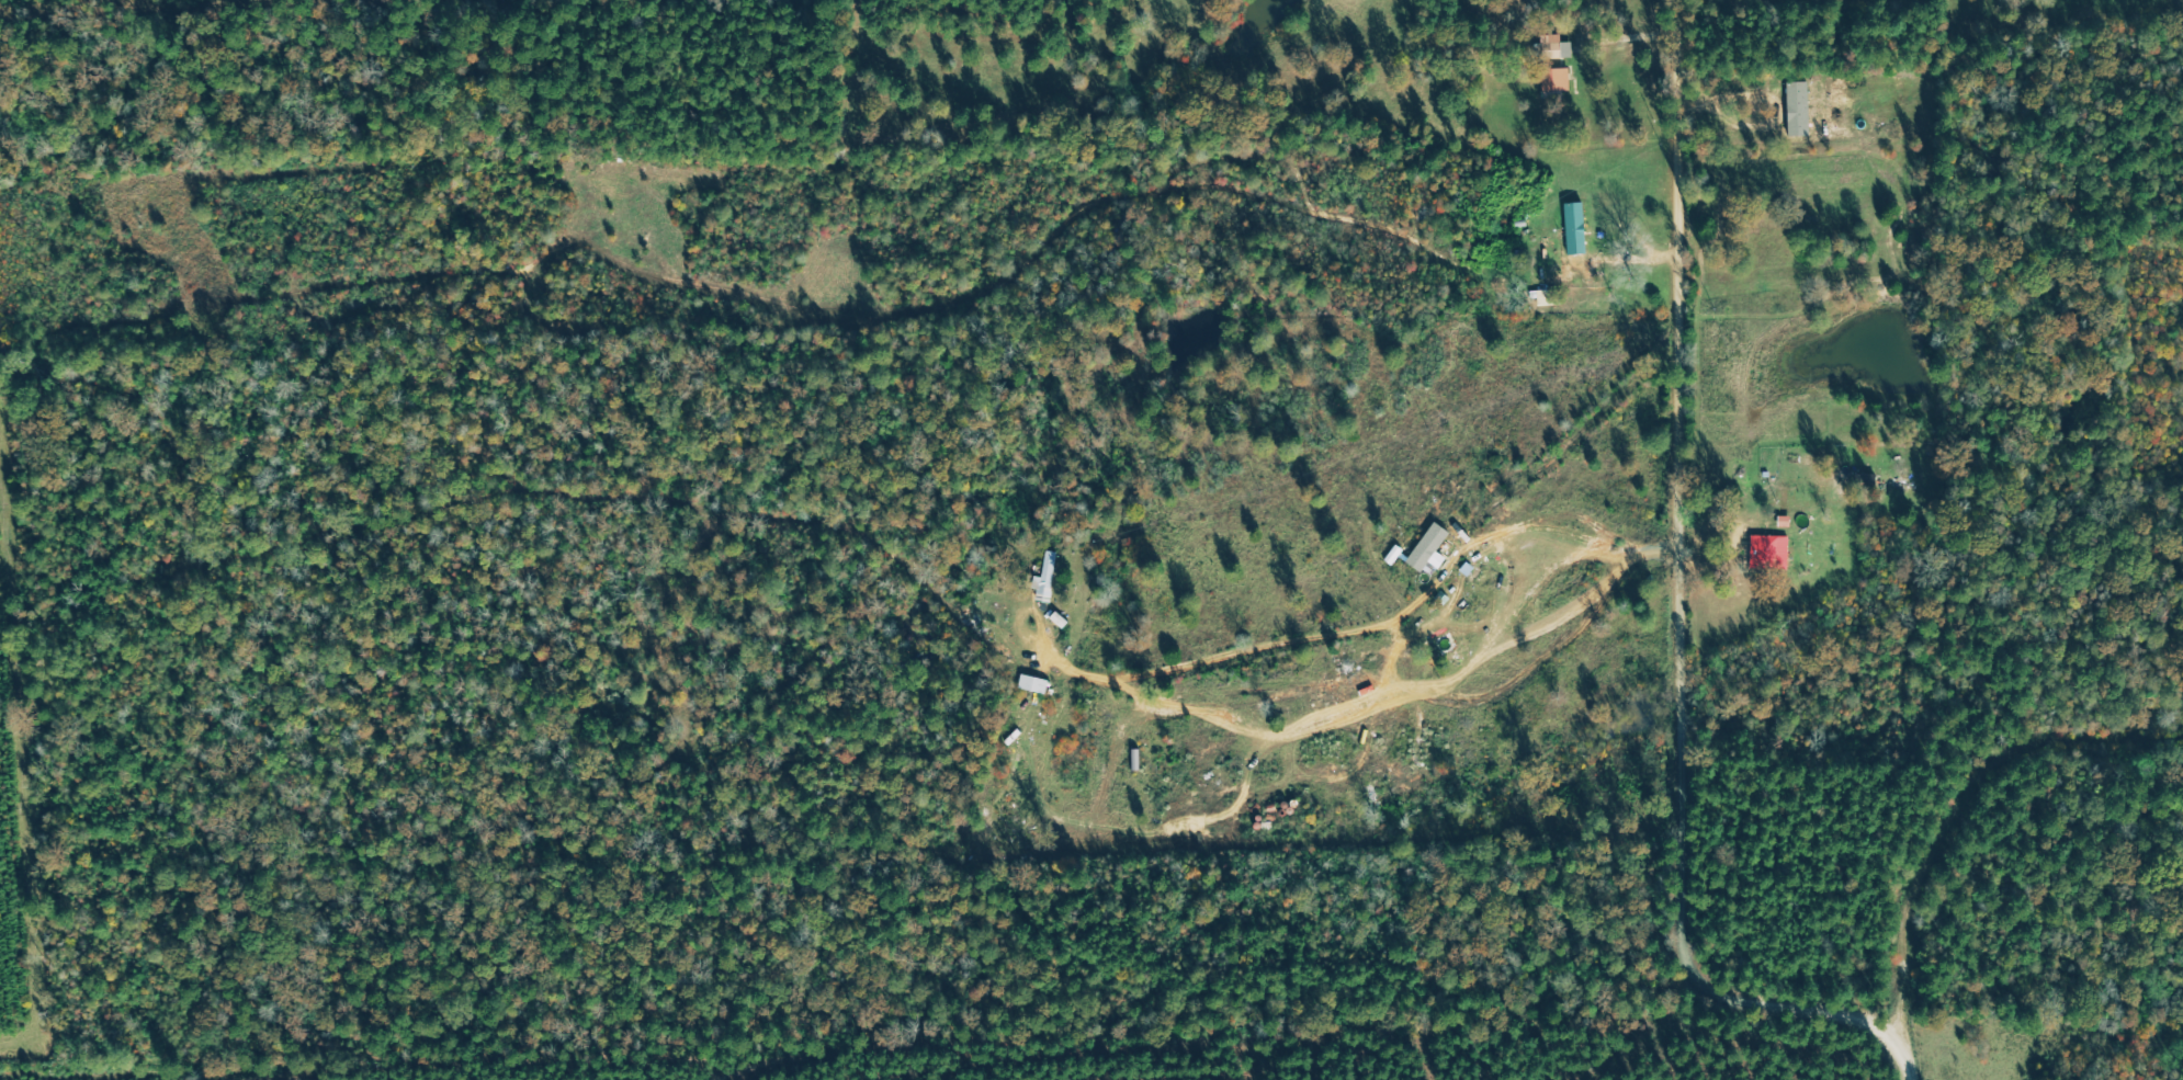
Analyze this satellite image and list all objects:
building: (1557, 47)
building: (1558, 79)
building: (1799, 109)
building: (1576, 228)
building: (1550, 298)
building: (1867, 479)
building: (1430, 549)
building: (1769, 550)
building: (1047, 576)
road: (1667, 582)
building: (1034, 684)

